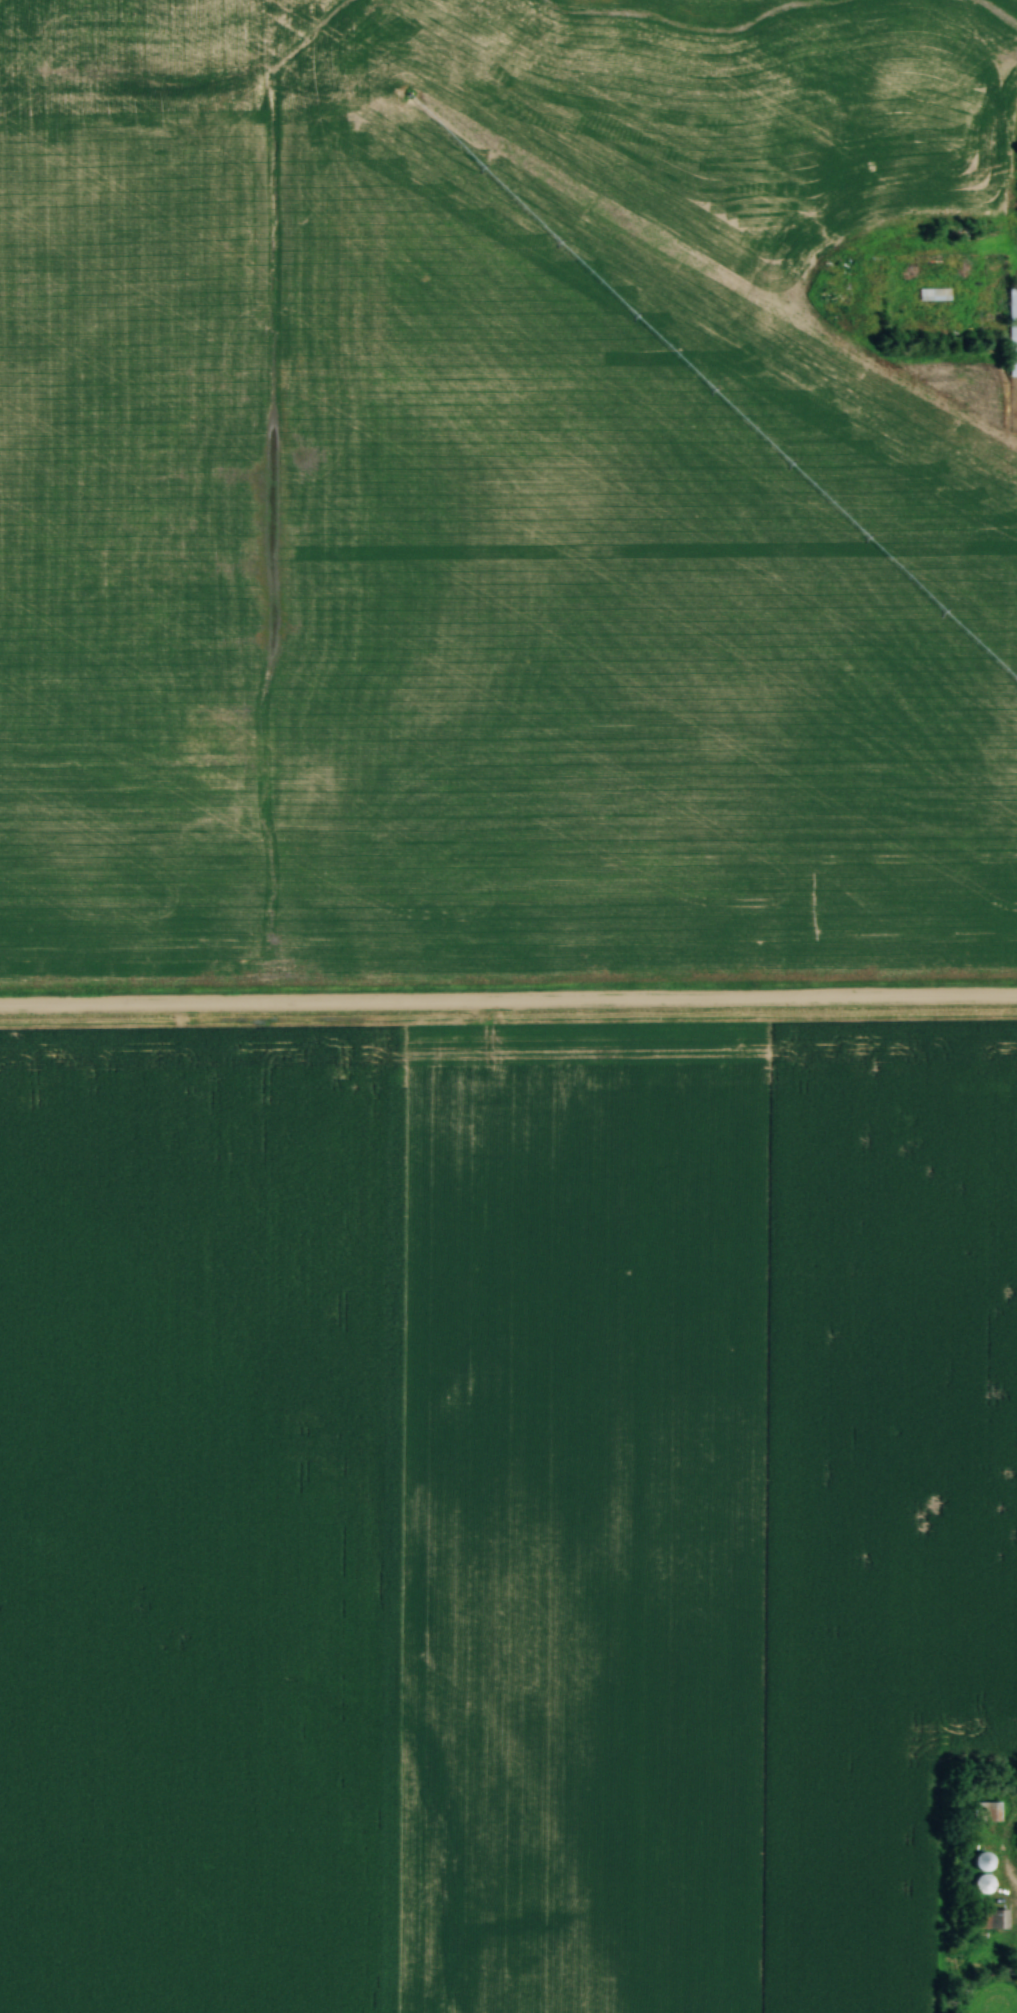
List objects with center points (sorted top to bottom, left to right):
building: (935, 294)
building: (1012, 330)
road: (508, 1004)
building: (985, 1860)
building: (986, 1883)
building: (997, 1919)

